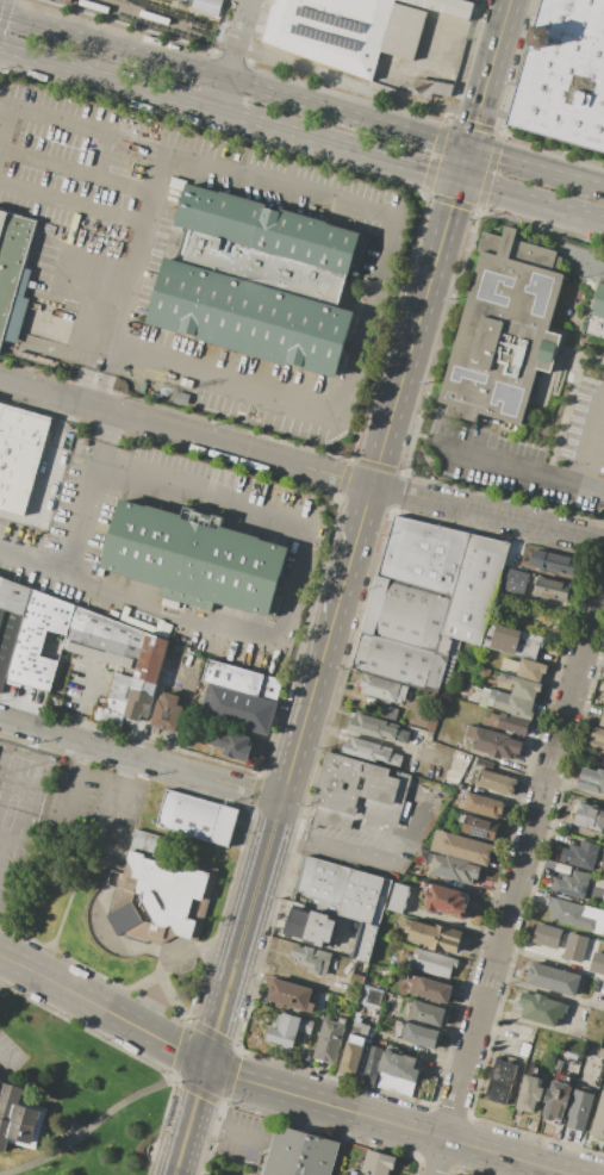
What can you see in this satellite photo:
building: (205, 6)
building: (442, 7)
building: (330, 31)
building: (403, 31)
road: (112, 46)
road: (229, 55)
road: (232, 55)
building: (563, 74)
railway: (340, 83)
building: (430, 88)
road: (373, 95)
road: (500, 119)
road: (63, 123)
road: (7, 126)
road: (415, 133)
road: (301, 135)
traffic signals: (468, 149)
road: (106, 158)
road: (77, 173)
traffic signals: (459, 180)
road: (284, 189)
road: (422, 194)
road: (74, 204)
road: (583, 259)
building: (13, 273)
road: (94, 279)
building: (259, 279)
road: (133, 282)
building: (596, 313)
road: (372, 317)
building: (503, 329)
road: (230, 381)
road: (593, 440)
building: (19, 454)
parking lot: (529, 455)
road: (516, 461)
road: (300, 465)
road: (81, 528)
building: (423, 554)
building: (194, 558)
building: (553, 562)
building: (506, 577)
road: (298, 582)
road: (342, 587)
building: (505, 587)
building: (474, 589)
building: (552, 589)
building: (169, 603)
building: (410, 616)
building: (10, 620)
building: (104, 639)
building: (511, 640)
building: (39, 641)
building: (403, 661)
building: (525, 667)
building: (145, 676)
building: (242, 679)
building: (522, 686)
building: (382, 688)
building: (113, 701)
building: (506, 703)
road: (82, 704)
building: (238, 709)
building: (167, 711)
building: (387, 711)
building: (436, 715)
building: (602, 719)
building: (506, 722)
building: (373, 727)
building: (419, 732)
building: (401, 735)
building: (597, 739)
building: (493, 741)
building: (232, 744)
building: (372, 751)
road: (141, 758)
building: (591, 781)
building: (496, 782)
road: (577, 791)
building: (357, 792)
building: (481, 804)
building: (590, 815)
building: (197, 819)
road: (341, 822)
building: (479, 826)
road: (82, 837)
building: (461, 847)
building: (580, 854)
road: (373, 860)
building: (455, 868)
road: (519, 883)
building: (572, 884)
building: (344, 889)
building: (160, 891)
building: (398, 897)
building: (446, 901)
building: (575, 914)
building: (311, 926)
building: (432, 935)
building: (547, 935)
building: (366, 941)
building: (575, 946)
road: (542, 956)
building: (311, 958)
building: (434, 963)
building: (597, 963)
road: (4, 965)
building: (553, 978)
building: (355, 986)
building: (429, 988)
building: (289, 994)
road: (555, 994)
building: (371, 995)
building: (542, 1008)
building: (426, 1013)
road: (540, 1024)
building: (318, 1025)
building: (289, 1030)
building: (417, 1034)
road: (503, 1034)
building: (330, 1039)
building: (354, 1049)
building: (524, 1049)
parking lot: (8, 1052)
road: (7, 1063)
traffic signals: (206, 1064)
building: (558, 1064)
building: (372, 1065)
building: (398, 1071)
building: (500, 1082)
road: (274, 1089)
building: (530, 1094)
park: (73, 1098)
building: (555, 1101)
building: (579, 1109)
road: (111, 1117)
building: (19, 1119)
building: (598, 1121)
road: (264, 1143)
building: (298, 1154)
building: (379, 1163)
building: (350, 1171)

